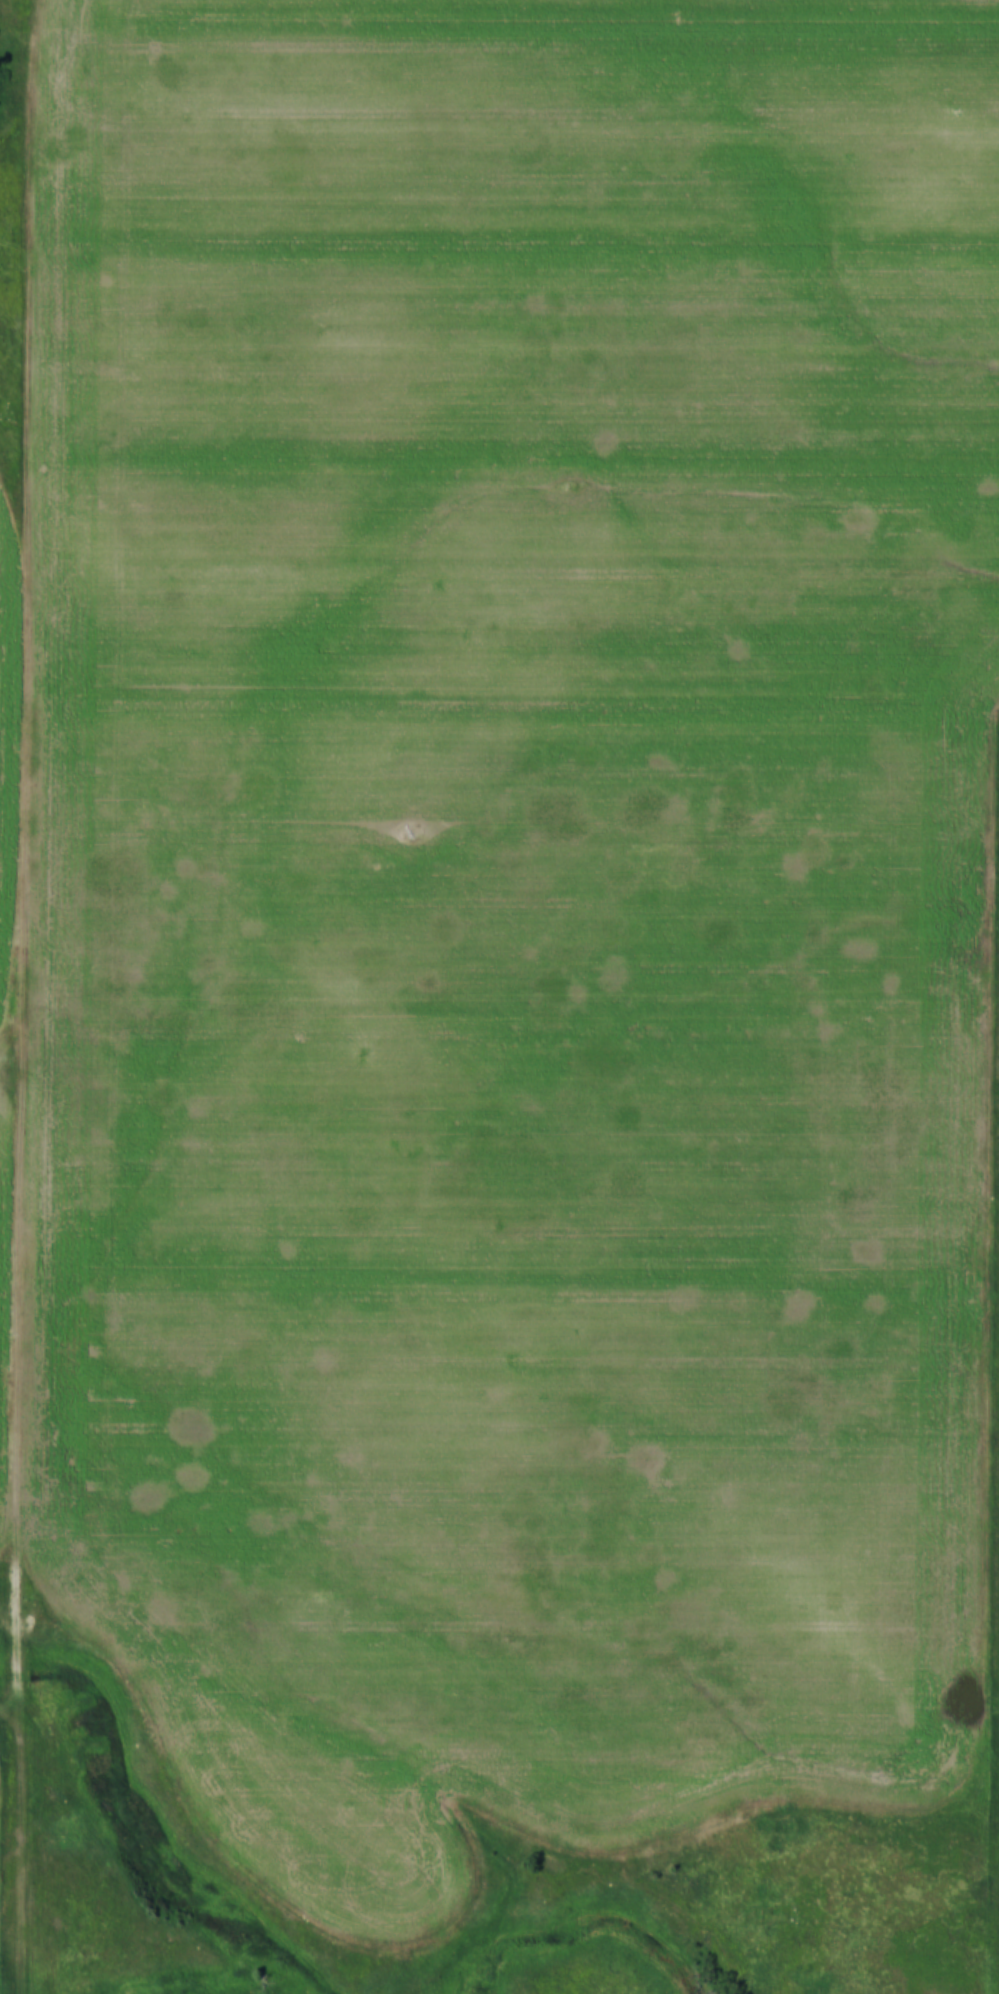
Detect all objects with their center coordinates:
road: (25, 1032)
road: (9, 1626)
road: (10, 1715)
road: (19, 1854)

